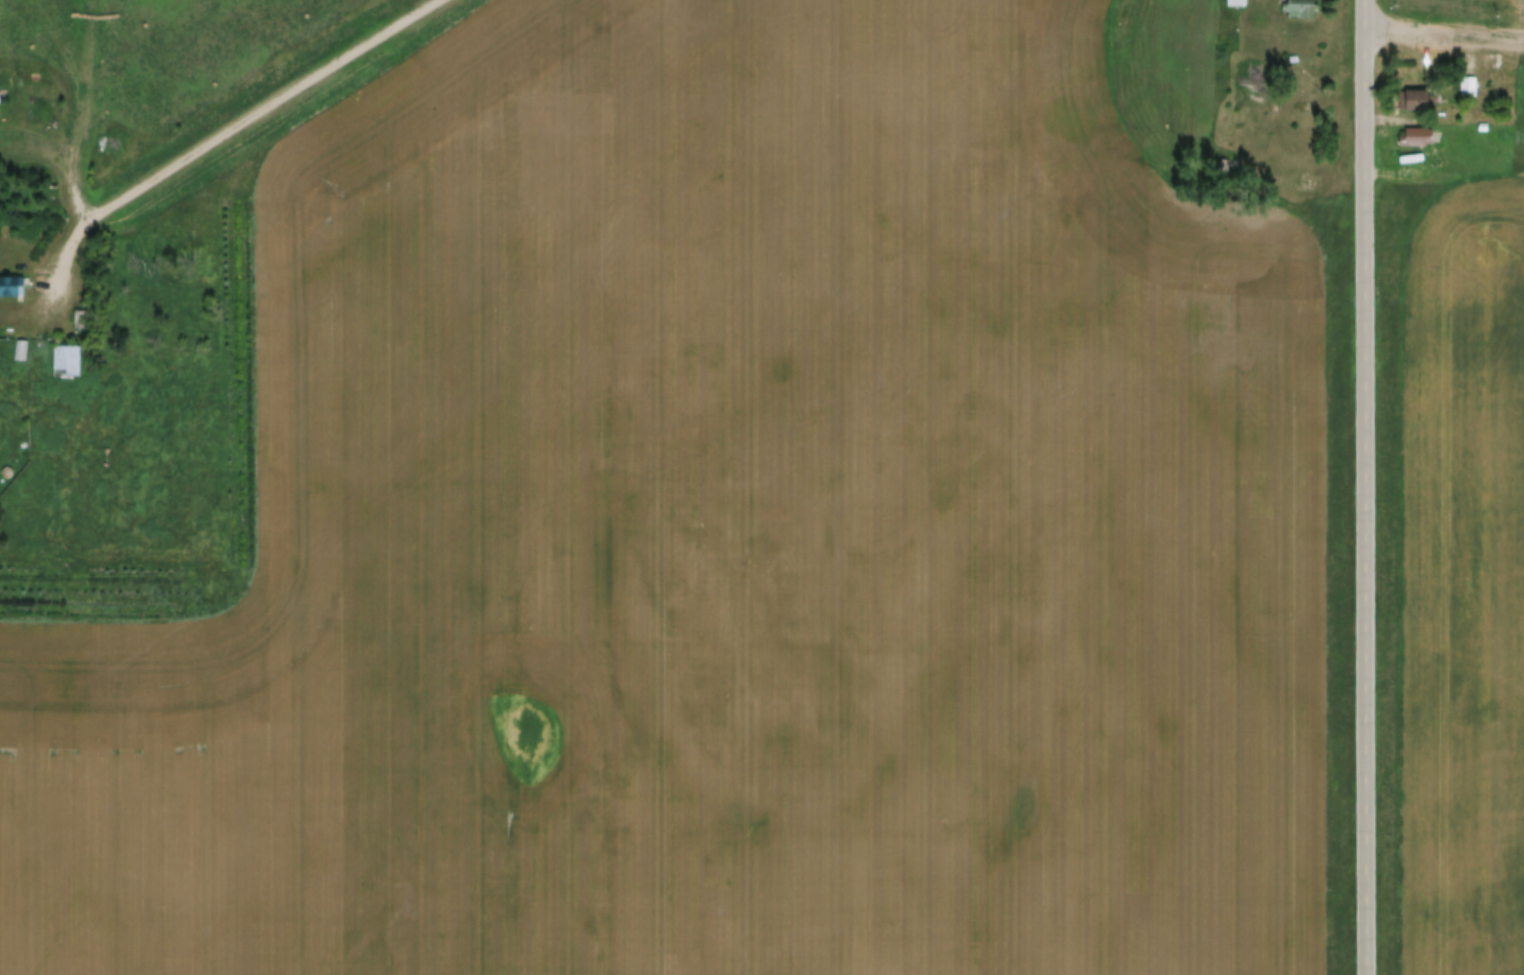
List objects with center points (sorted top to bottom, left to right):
building: (1298, 3)
building: (1236, 4)
building: (1294, 53)
building: (1467, 79)
building: (1469, 90)
building: (1411, 93)
building: (1416, 102)
building: (1483, 120)
building: (1416, 130)
road: (225, 133)
building: (10, 281)
building: (18, 344)
building: (22, 353)
building: (63, 355)
road: (1366, 487)

